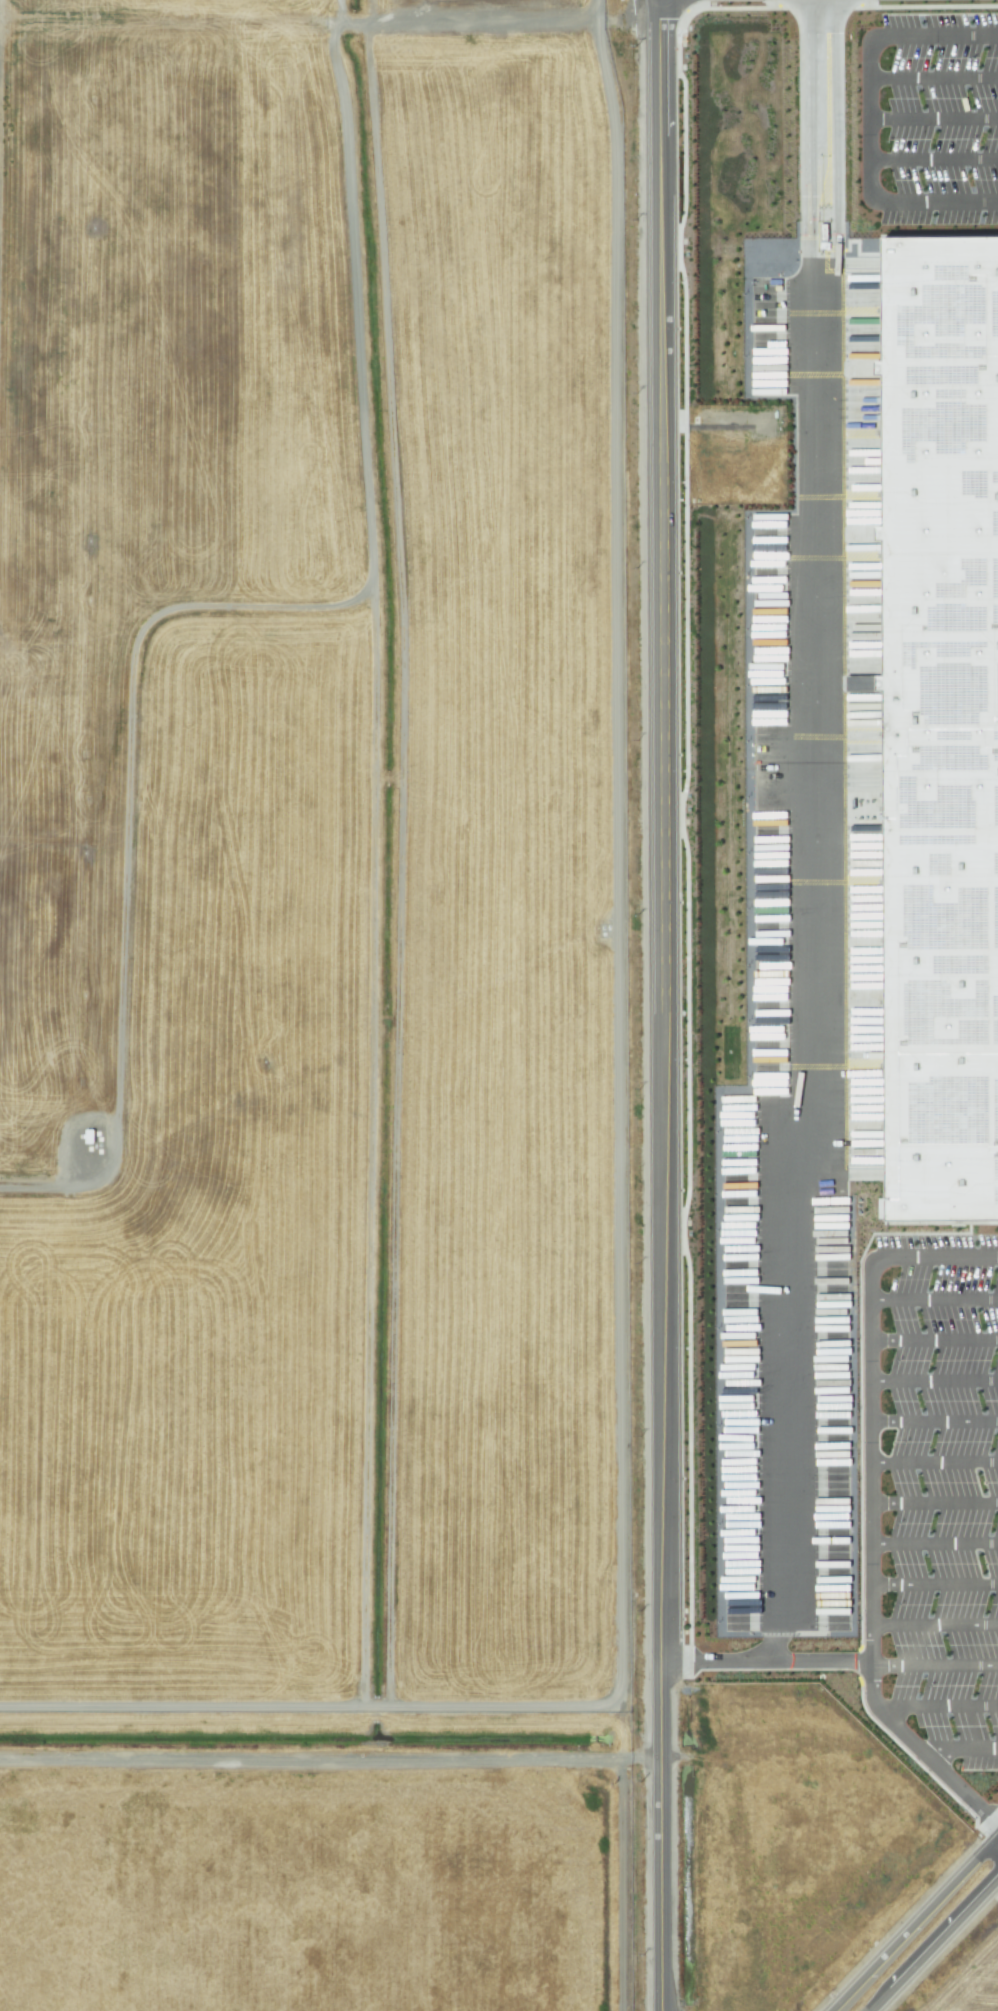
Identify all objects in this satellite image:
road: (933, 77)
road: (933, 118)
road: (869, 119)
road: (933, 158)
road: (685, 687)
building: (943, 732)
road: (819, 834)
road: (658, 1005)
airport: (311, 1007)
road: (37, 1185)
road: (943, 1222)
road: (933, 1302)
road: (933, 1342)
road: (933, 1382)
road: (868, 1415)
road: (933, 1422)
road: (933, 1464)
parking lot: (945, 1486)
road: (933, 1506)
road: (933, 1547)
road: (934, 1586)
road: (934, 1625)
road: (766, 1658)
road: (935, 1672)
road: (941, 1709)
railway: (499, 1730)
road: (960, 1748)
road: (935, 1761)
road: (330, 1762)
road: (987, 1818)
road: (914, 1918)
road: (933, 1941)

